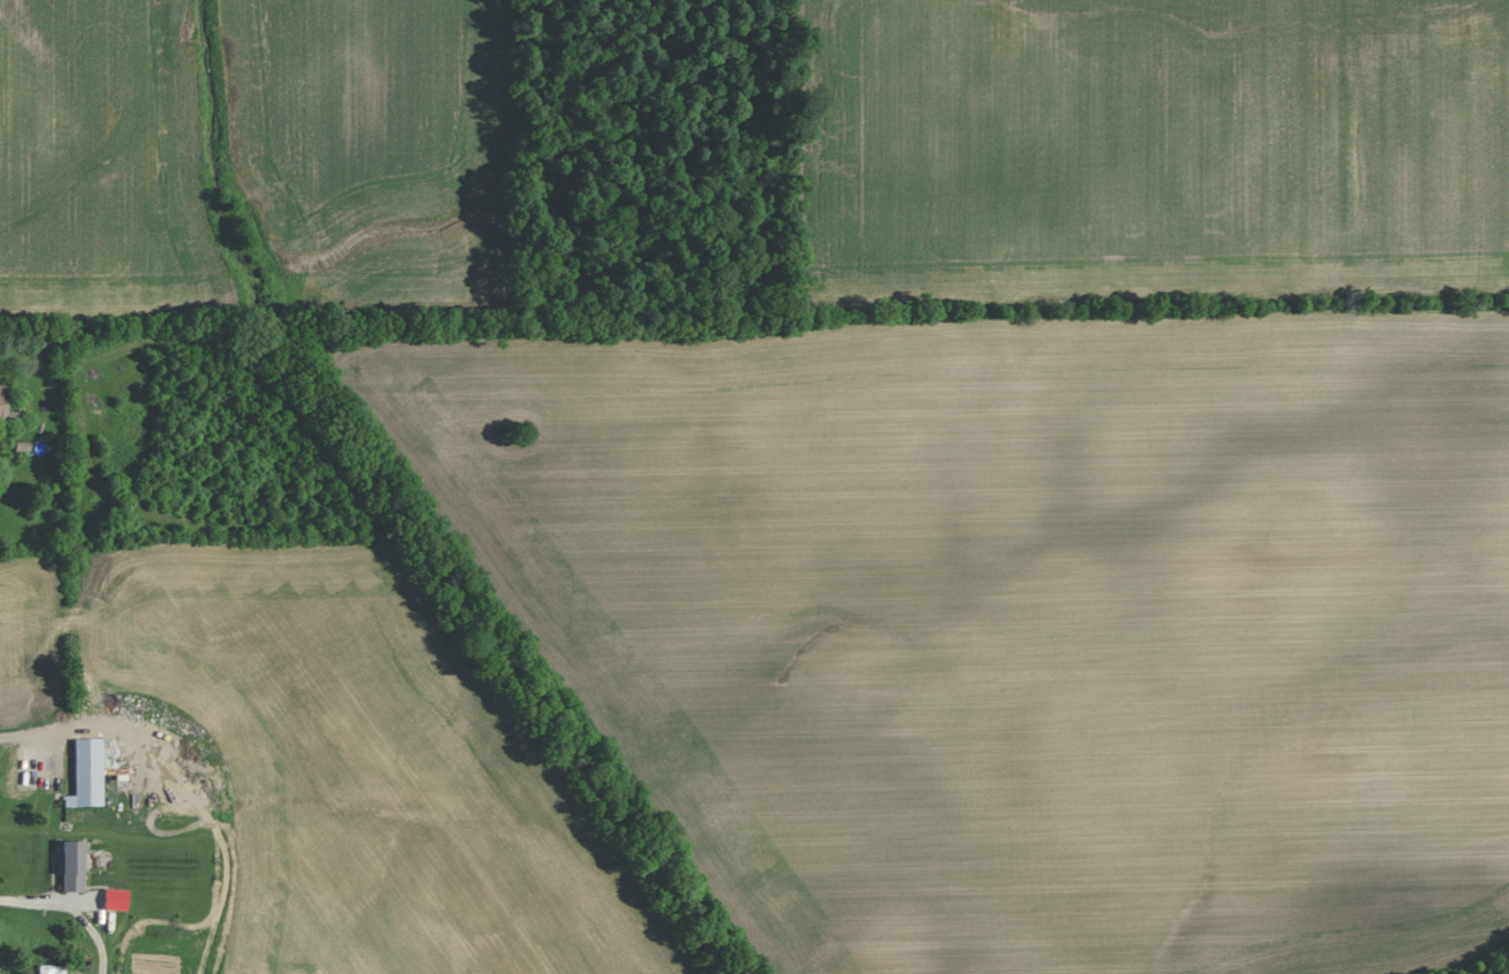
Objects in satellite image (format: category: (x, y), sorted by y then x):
building: (6, 406)
road: (49, 731)
building: (88, 773)
building: (72, 865)
building: (116, 899)
road: (73, 909)
building: (53, 969)

